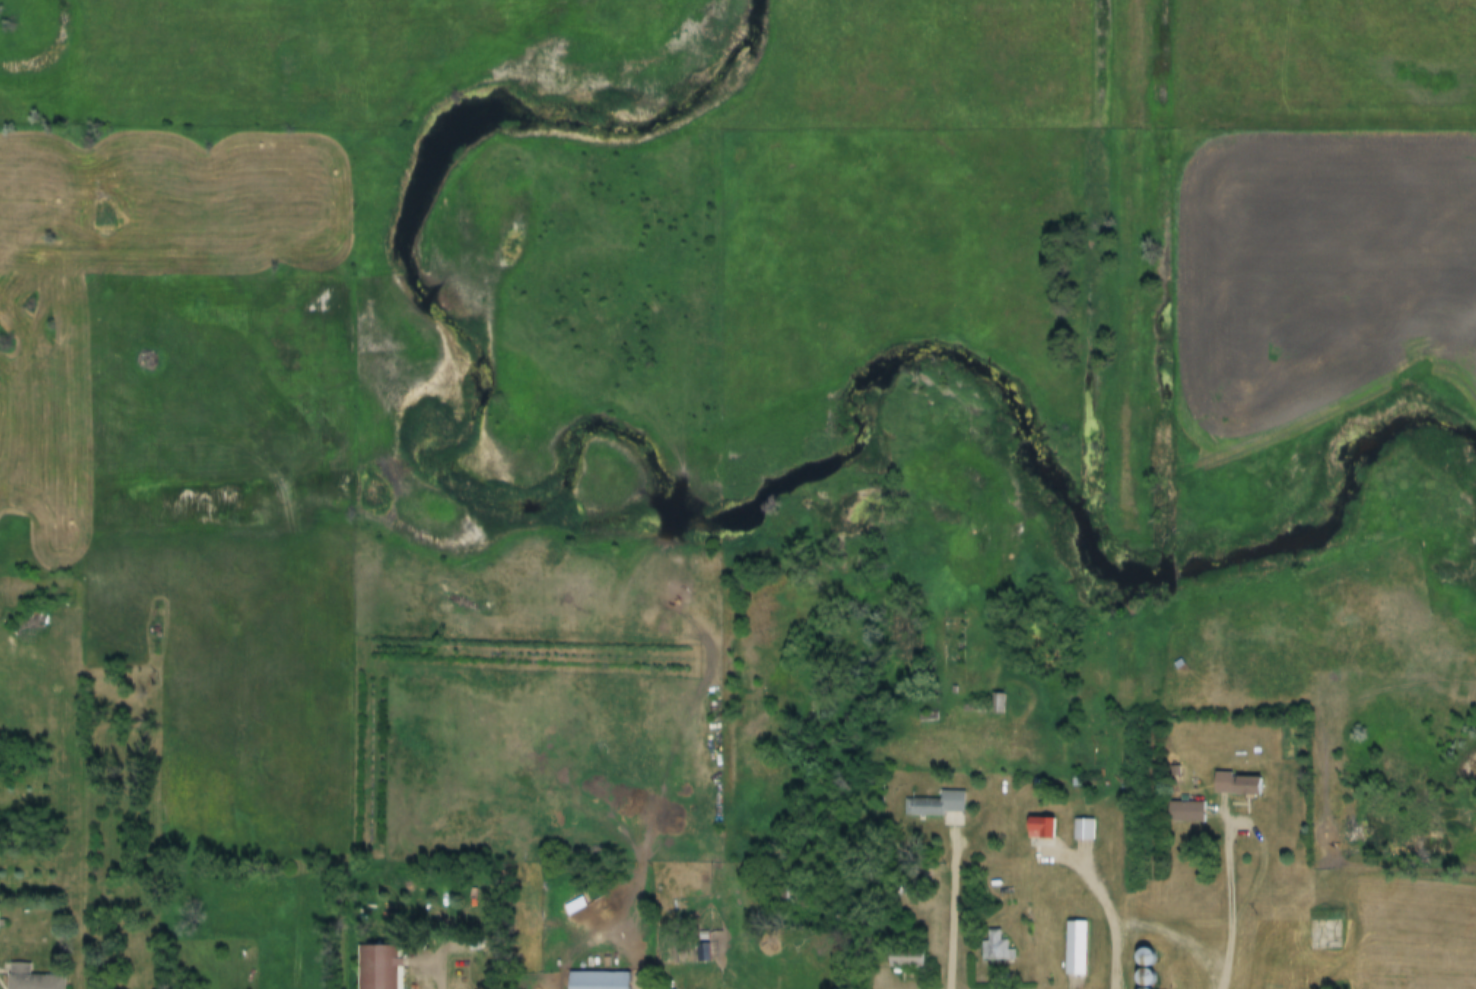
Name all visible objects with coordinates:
building: (998, 702)
building: (1237, 783)
building: (937, 804)
building: (1185, 810)
building: (1041, 827)
building: (1082, 829)
road: (1232, 893)
road: (1109, 898)
road: (955, 906)
road: (1183, 932)
building: (1324, 934)
building: (996, 947)
building: (1075, 947)
building: (702, 953)
road: (464, 958)
building: (905, 958)
building: (1146, 966)
building: (378, 967)
building: (31, 978)
building: (598, 980)

